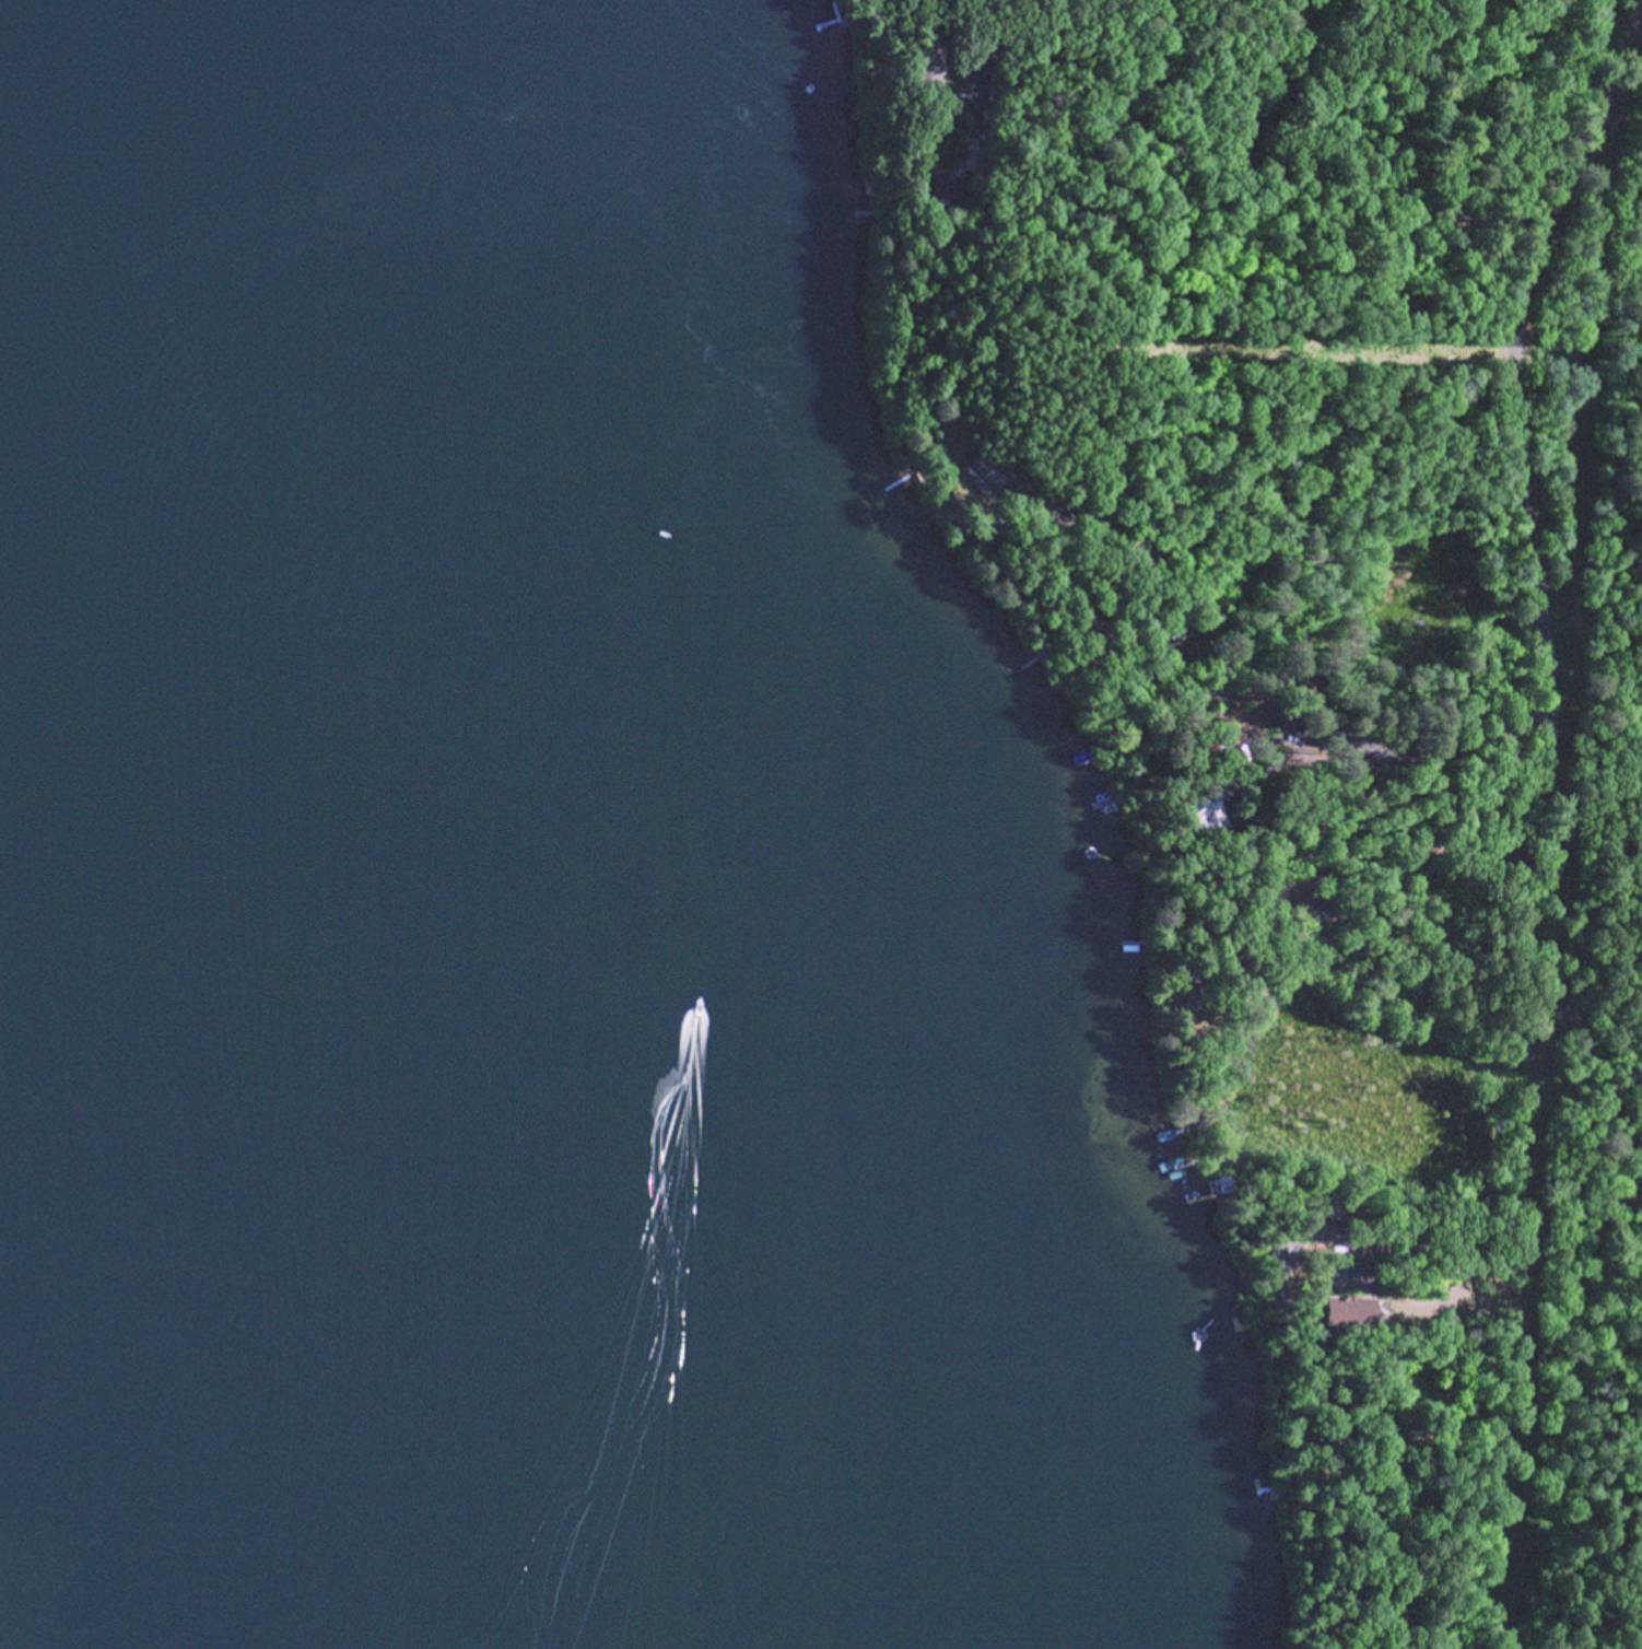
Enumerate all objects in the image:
building: (924, 57)
building: (1000, 87)
building: (941, 194)
road: (1289, 349)
building: (985, 469)
building: (1045, 500)
building: (1082, 506)
building: (996, 517)
building: (1110, 562)
road: (1565, 577)
building: (1096, 624)
building: (1186, 627)
road: (1410, 631)
building: (1046, 650)
building: (1247, 717)
building: (1288, 718)
building: (1131, 733)
building: (1232, 755)
building: (1208, 810)
building: (1320, 910)
building: (1191, 991)
building: (1193, 1120)
building: (1217, 1185)
building: (1323, 1204)
building: (1277, 1258)
building: (1340, 1310)
building: (1327, 1439)
building: (1365, 1496)

